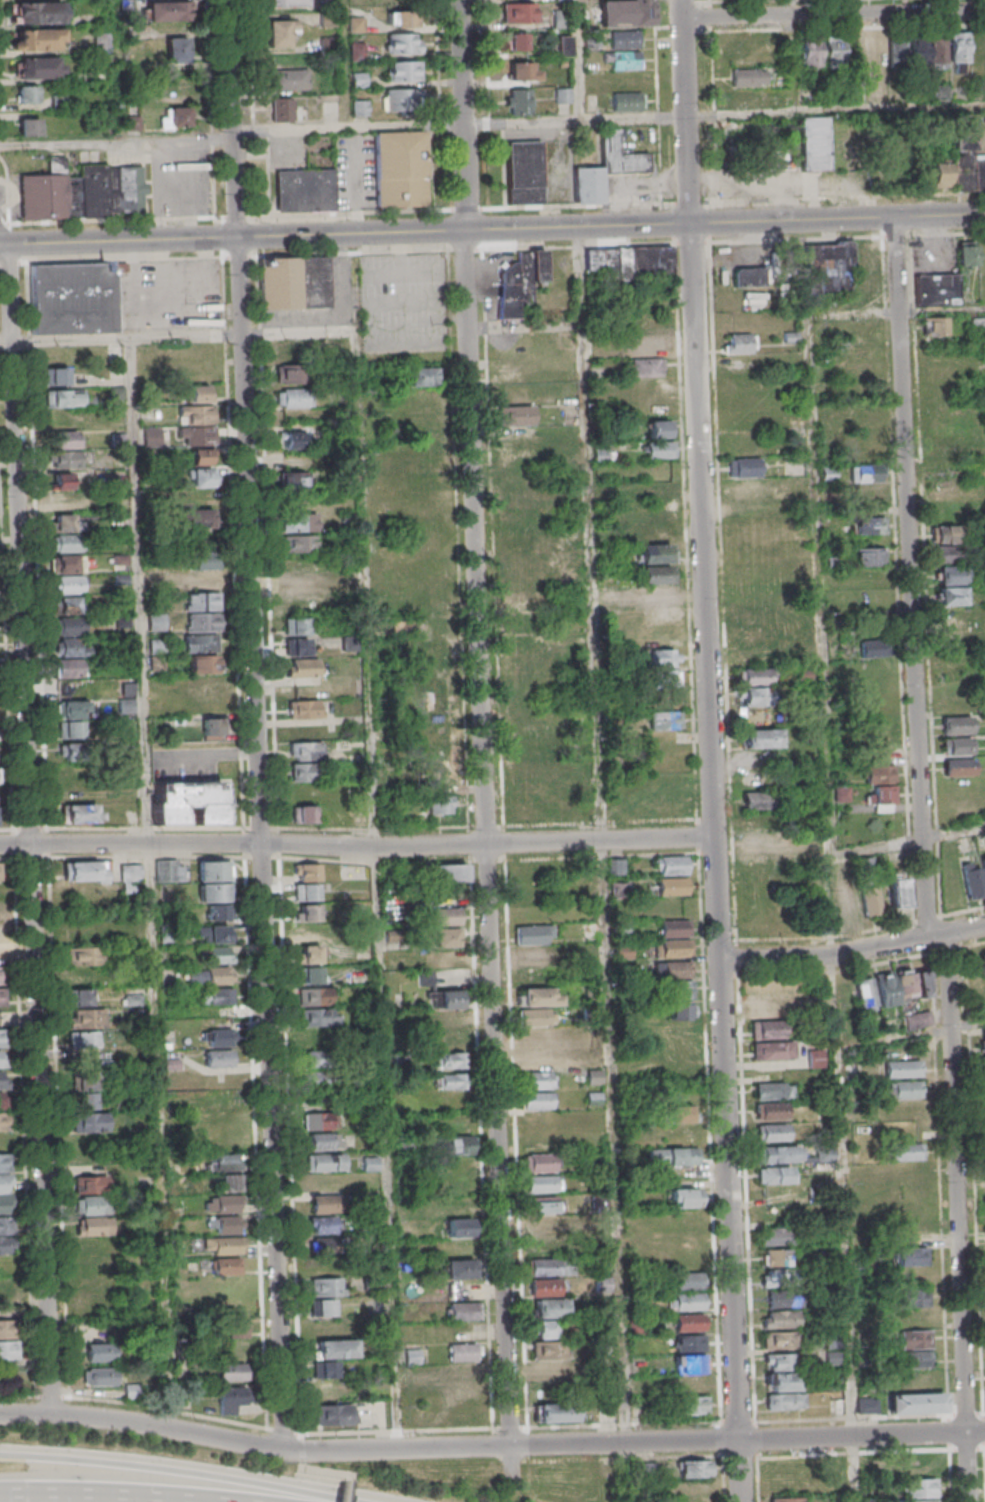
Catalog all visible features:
building: (562, 0)
building: (289, 3)
road: (788, 7)
building: (36, 12)
building: (170, 12)
building: (518, 12)
building: (625, 13)
road: (832, 13)
building: (561, 17)
building: (403, 18)
building: (280, 32)
building: (37, 39)
building: (624, 39)
building: (516, 40)
building: (403, 42)
building: (564, 45)
building: (177, 49)
building: (875, 49)
building: (977, 49)
building: (834, 51)
building: (908, 51)
building: (938, 51)
building: (959, 51)
building: (811, 53)
road: (441, 59)
road: (579, 61)
road: (347, 64)
building: (39, 67)
building: (625, 69)
building: (403, 70)
building: (525, 70)
building: (749, 77)
building: (292, 81)
building: (27, 93)
building: (739, 98)
building: (401, 99)
building: (519, 101)
building: (627, 101)
building: (359, 107)
building: (280, 109)
road: (257, 110)
road: (214, 114)
road: (469, 114)
building: (174, 117)
road: (235, 118)
road: (610, 120)
building: (28, 126)
road: (118, 143)
building: (789, 148)
building: (967, 163)
building: (400, 168)
building: (606, 169)
building: (525, 172)
building: (941, 173)
road: (10, 187)
building: (305, 189)
building: (82, 191)
road: (262, 216)
road: (239, 217)
road: (114, 221)
road: (492, 228)
road: (947, 234)
road: (896, 235)
road: (795, 238)
building: (967, 252)
road: (882, 260)
building: (631, 262)
building: (842, 269)
building: (749, 276)
building: (520, 281)
building: (294, 283)
building: (938, 289)
building: (72, 298)
road: (944, 311)
road: (857, 315)
road: (174, 319)
building: (933, 326)
road: (178, 336)
building: (741, 343)
building: (647, 345)
road: (796, 357)
building: (647, 367)
building: (285, 373)
building: (55, 375)
building: (421, 376)
building: (198, 393)
building: (63, 397)
building: (292, 397)
building: (865, 414)
building: (196, 425)
building: (518, 425)
building: (658, 428)
building: (66, 438)
building: (290, 439)
building: (866, 448)
building: (660, 449)
building: (947, 449)
building: (200, 456)
building: (65, 459)
building: (744, 466)
building: (425, 469)
building: (828, 473)
building: (865, 473)
building: (202, 476)
building: (292, 479)
building: (62, 480)
building: (798, 484)
building: (753, 488)
building: (659, 489)
building: (944, 489)
building: (868, 494)
building: (521, 498)
building: (68, 500)
building: (198, 518)
building: (63, 522)
building: (300, 522)
building: (868, 525)
building: (751, 529)
building: (654, 532)
building: (946, 535)
building: (517, 540)
building: (66, 542)
building: (299, 543)
building: (867, 556)
building: (202, 560)
building: (656, 563)
road: (914, 576)
building: (300, 584)
building: (950, 585)
building: (201, 590)
building: (657, 595)
road: (723, 595)
building: (69, 615)
building: (660, 616)
building: (156, 622)
building: (203, 622)
building: (296, 625)
building: (437, 625)
building: (754, 633)
building: (662, 637)
building: (200, 642)
building: (526, 644)
building: (298, 646)
building: (663, 657)
building: (203, 664)
building: (302, 667)
building: (664, 678)
building: (204, 684)
building: (754, 686)
building: (126, 698)
building: (956, 703)
building: (305, 708)
building: (71, 717)
building: (665, 719)
building: (956, 725)
building: (211, 726)
building: (762, 738)
building: (957, 746)
building: (536, 747)
building: (307, 750)
road: (709, 750)
building: (886, 753)
building: (73, 761)
building: (958, 766)
building: (306, 771)
building: (440, 776)
building: (757, 779)
building: (881, 787)
building: (532, 789)
building: (841, 794)
building: (757, 799)
building: (189, 802)
building: (669, 802)
building: (440, 804)
building: (535, 811)
building: (81, 813)
building: (304, 813)
building: (758, 820)
road: (33, 828)
road: (603, 834)
road: (489, 837)
road: (907, 841)
building: (758, 842)
road: (264, 843)
road: (356, 846)
road: (601, 856)
building: (670, 865)
building: (617, 866)
building: (983, 867)
building: (85, 870)
building: (170, 870)
building: (214, 870)
building: (0, 871)
building: (307, 872)
building: (449, 872)
road: (831, 877)
building: (972, 879)
road: (154, 884)
building: (671, 885)
building: (620, 888)
road: (381, 889)
building: (897, 890)
building: (213, 892)
building: (307, 892)
building: (870, 897)
building: (849, 904)
building: (217, 910)
building: (0, 912)
building: (308, 912)
building: (532, 913)
building: (447, 916)
building: (672, 928)
road: (967, 931)
building: (212, 933)
building: (308, 933)
building: (86, 934)
building: (533, 934)
road: (940, 936)
building: (446, 937)
building: (671, 948)
building: (219, 954)
building: (308, 954)
building: (532, 955)
building: (84, 956)
building: (442, 957)
road: (825, 957)
road: (739, 961)
road: (911, 961)
building: (1, 965)
building: (210, 974)
building: (310, 974)
building: (79, 975)
road: (834, 975)
road: (741, 976)
building: (674, 986)
building: (890, 987)
building: (218, 995)
building: (314, 996)
building: (539, 996)
building: (3, 997)
building: (80, 997)
building: (447, 999)
building: (765, 1008)
building: (318, 1016)
building: (87, 1017)
building: (534, 1017)
building: (917, 1019)
building: (448, 1020)
building: (767, 1029)
building: (219, 1037)
building: (318, 1037)
building: (539, 1037)
road: (911, 1037)
building: (3, 1038)
building: (82, 1039)
building: (983, 1041)
building: (773, 1050)
building: (815, 1057)
building: (219, 1058)
building: (535, 1058)
building: (3, 1059)
building: (320, 1059)
building: (447, 1060)
building: (902, 1068)
building: (984, 1076)
building: (537, 1079)
building: (322, 1080)
building: (450, 1080)
building: (904, 1088)
building: (772, 1089)
building: (537, 1100)
building: (88, 1104)
building: (982, 1107)
building: (770, 1111)
building: (680, 1113)
building: (320, 1120)
building: (537, 1121)
building: (983, 1127)
building: (771, 1132)
building: (682, 1134)
road: (708, 1136)
building: (323, 1141)
road: (515, 1143)
building: (537, 1143)
building: (459, 1144)
building: (983, 1148)
building: (907, 1151)
building: (824, 1153)
road: (746, 1154)
building: (776, 1154)
building: (672, 1155)
building: (224, 1162)
building: (324, 1162)
building: (540, 1163)
building: (5, 1164)
building: (983, 1169)
building: (773, 1175)
building: (228, 1182)
building: (542, 1184)
building: (459, 1185)
building: (92, 1195)
building: (684, 1197)
building: (224, 1203)
building: (325, 1203)
building: (544, 1205)
road: (959, 1218)
building: (681, 1219)
building: (225, 1224)
building: (322, 1224)
building: (543, 1225)
building: (94, 1226)
building: (460, 1227)
building: (908, 1232)
building: (775, 1236)
building: (223, 1245)
building: (323, 1245)
building: (543, 1246)
building: (775, 1256)
building: (909, 1256)
building: (225, 1266)
building: (550, 1266)
building: (459, 1269)
building: (779, 1277)
building: (687, 1280)
building: (602, 1283)
building: (326, 1286)
building: (5, 1287)
building: (546, 1287)
building: (914, 1297)
building: (783, 1298)
building: (685, 1301)
building: (322, 1307)
building: (549, 1308)
building: (464, 1310)
building: (779, 1318)
building: (688, 1322)
building: (543, 1328)
building: (233, 1329)
building: (781, 1338)
building: (8, 1339)
building: (688, 1342)
building: (334, 1348)
building: (917, 1348)
building: (99, 1352)
building: (462, 1352)
building: (549, 1360)
building: (778, 1361)
building: (325, 1369)
building: (231, 1371)
building: (465, 1373)
building: (688, 1374)
building: (98, 1376)
building: (780, 1381)
building: (328, 1389)
building: (131, 1391)
road: (48, 1394)
building: (232, 1398)
building: (784, 1400)
building: (915, 1402)
building: (689, 1405)
building: (838, 1405)
road: (164, 1408)
building: (554, 1413)
building: (332, 1414)
road: (736, 1420)
road: (622, 1423)
road: (141, 1424)
road: (510, 1426)
road: (283, 1430)
road: (397, 1430)
road: (860, 1435)
road: (719, 1438)
road: (754, 1438)
road: (300, 1442)
road: (518, 1445)
road: (291, 1450)
road: (737, 1456)
road: (302, 1458)
building: (917, 1465)
road: (179, 1469)
road: (854, 1469)
building: (692, 1470)
road: (339, 1472)
road: (756, 1479)
building: (919, 1487)
building: (785, 1499)
road: (48, 1500)
building: (918, 1500)

